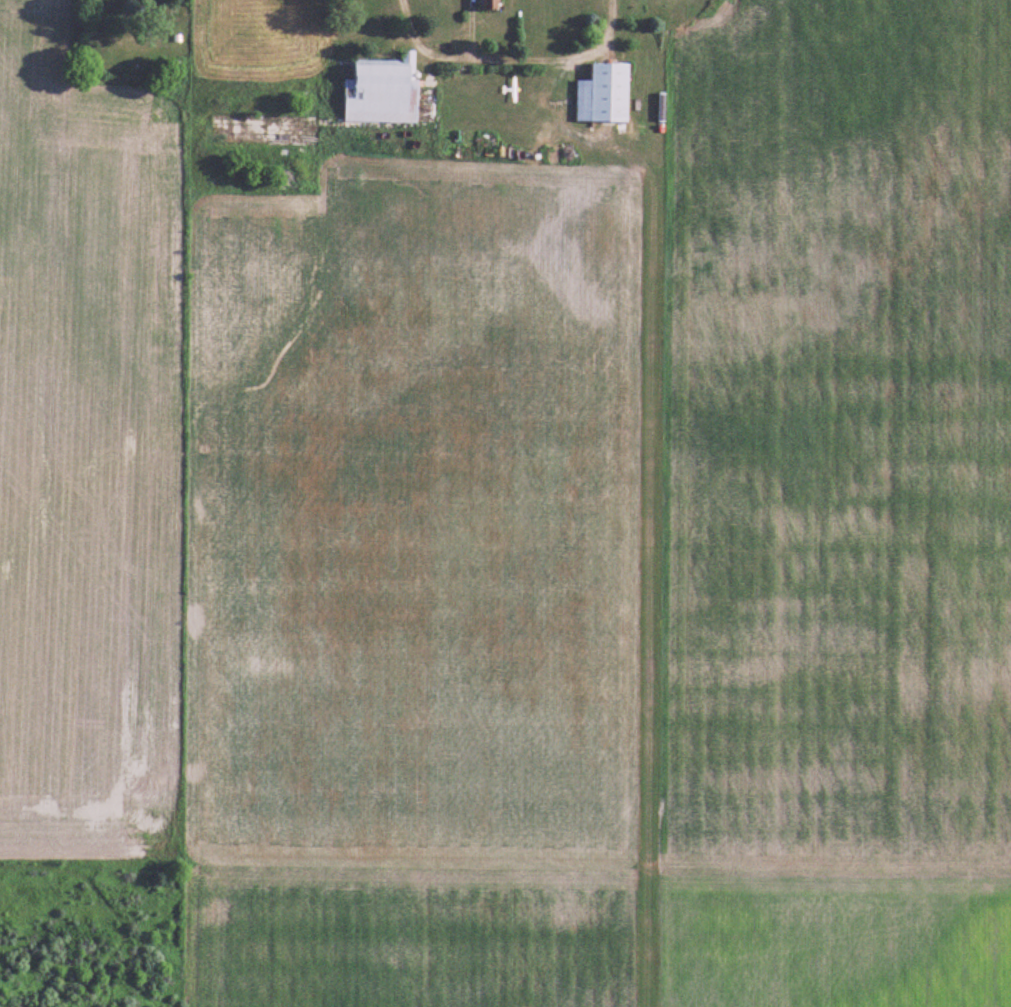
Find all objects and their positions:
building: (492, 5)
building: (383, 91)
building: (605, 95)

